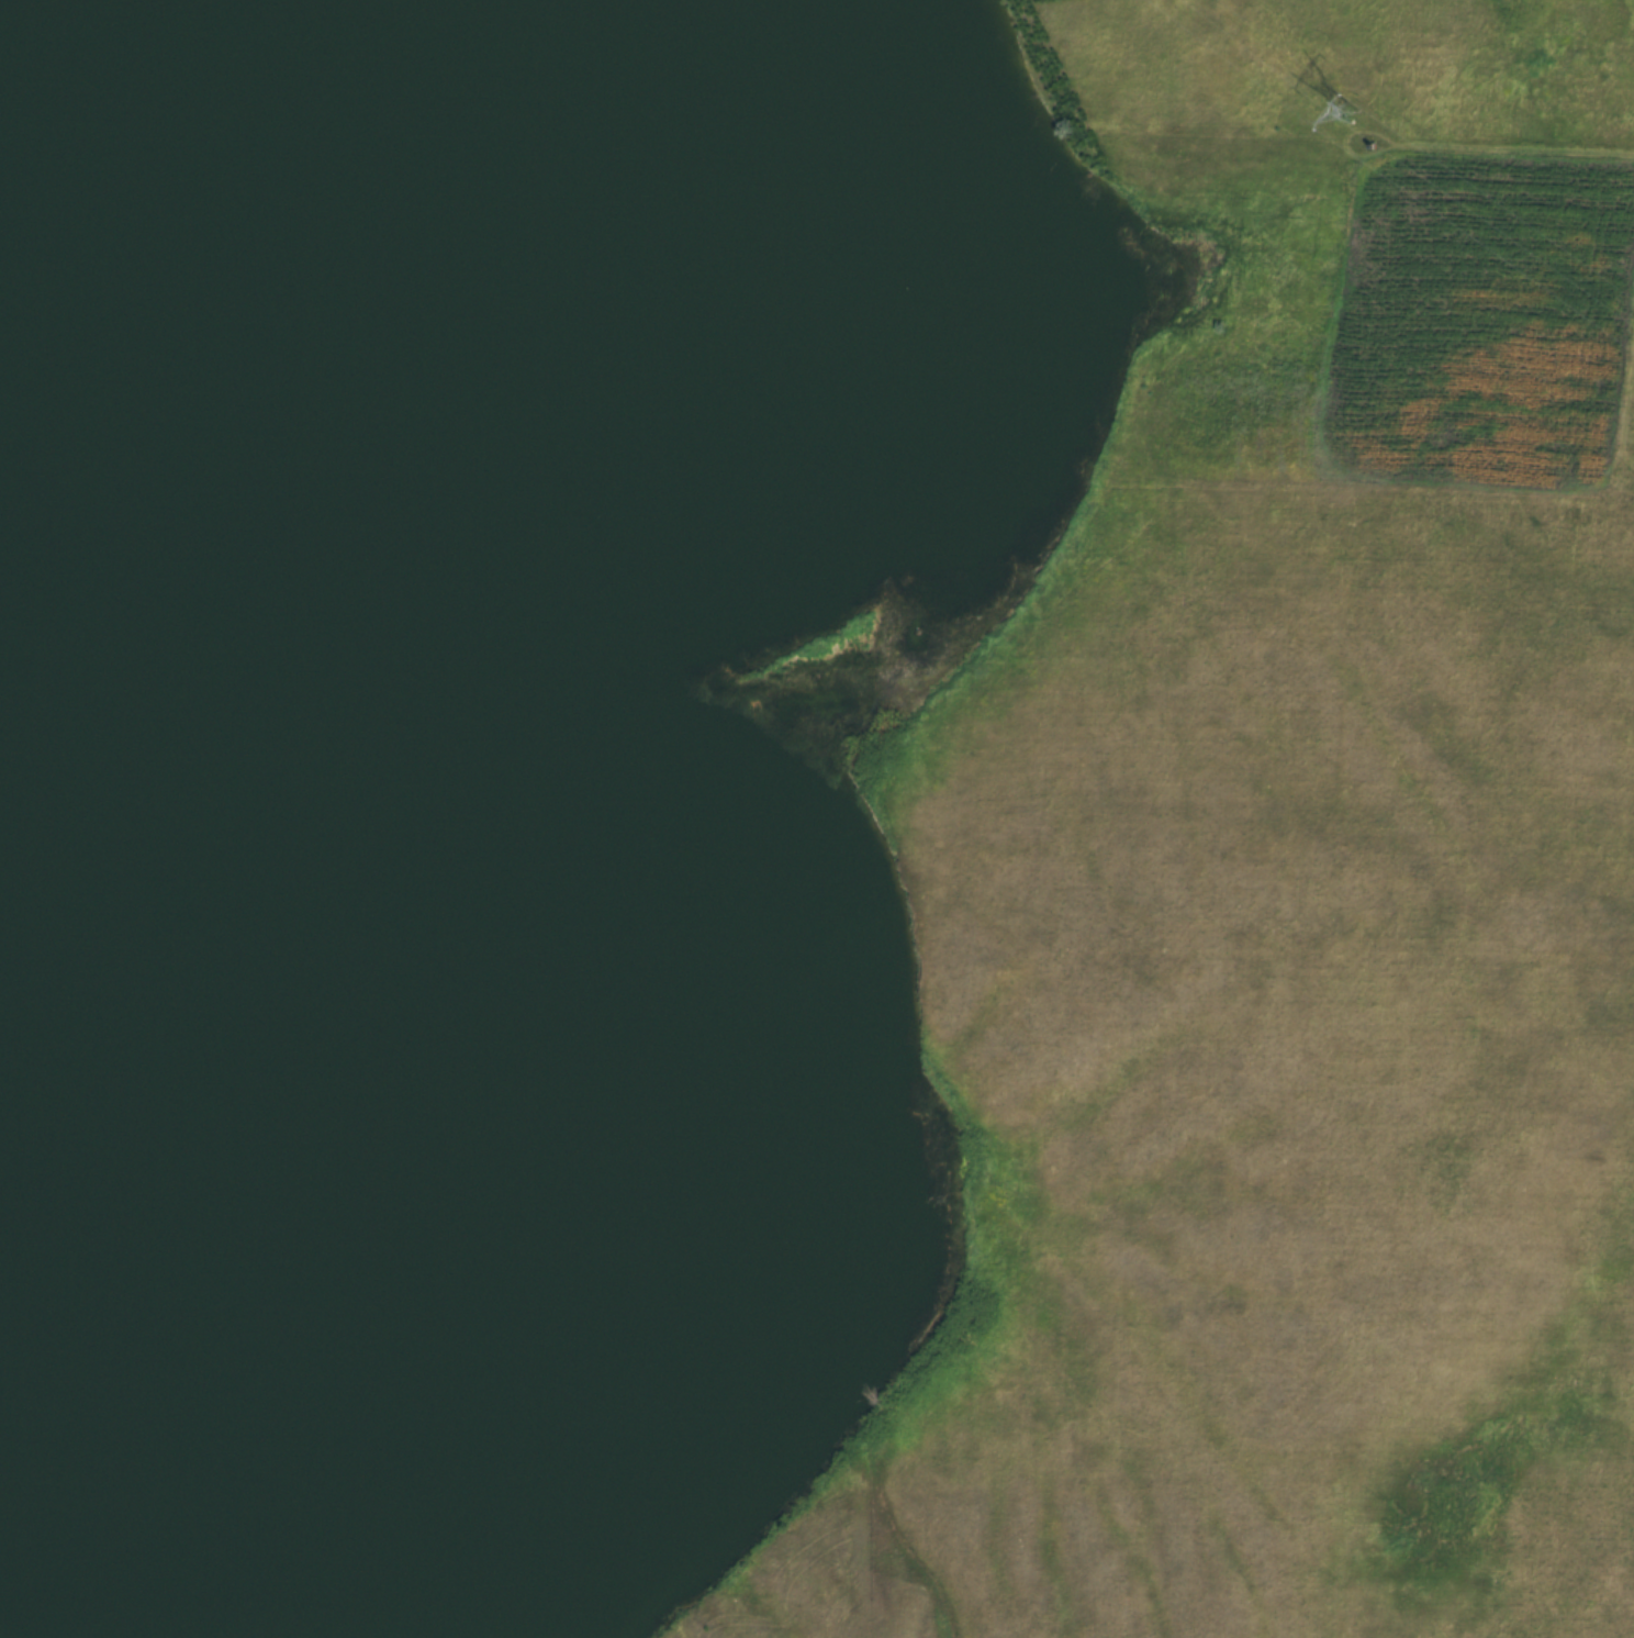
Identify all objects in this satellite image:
power tower: (1334, 120)

